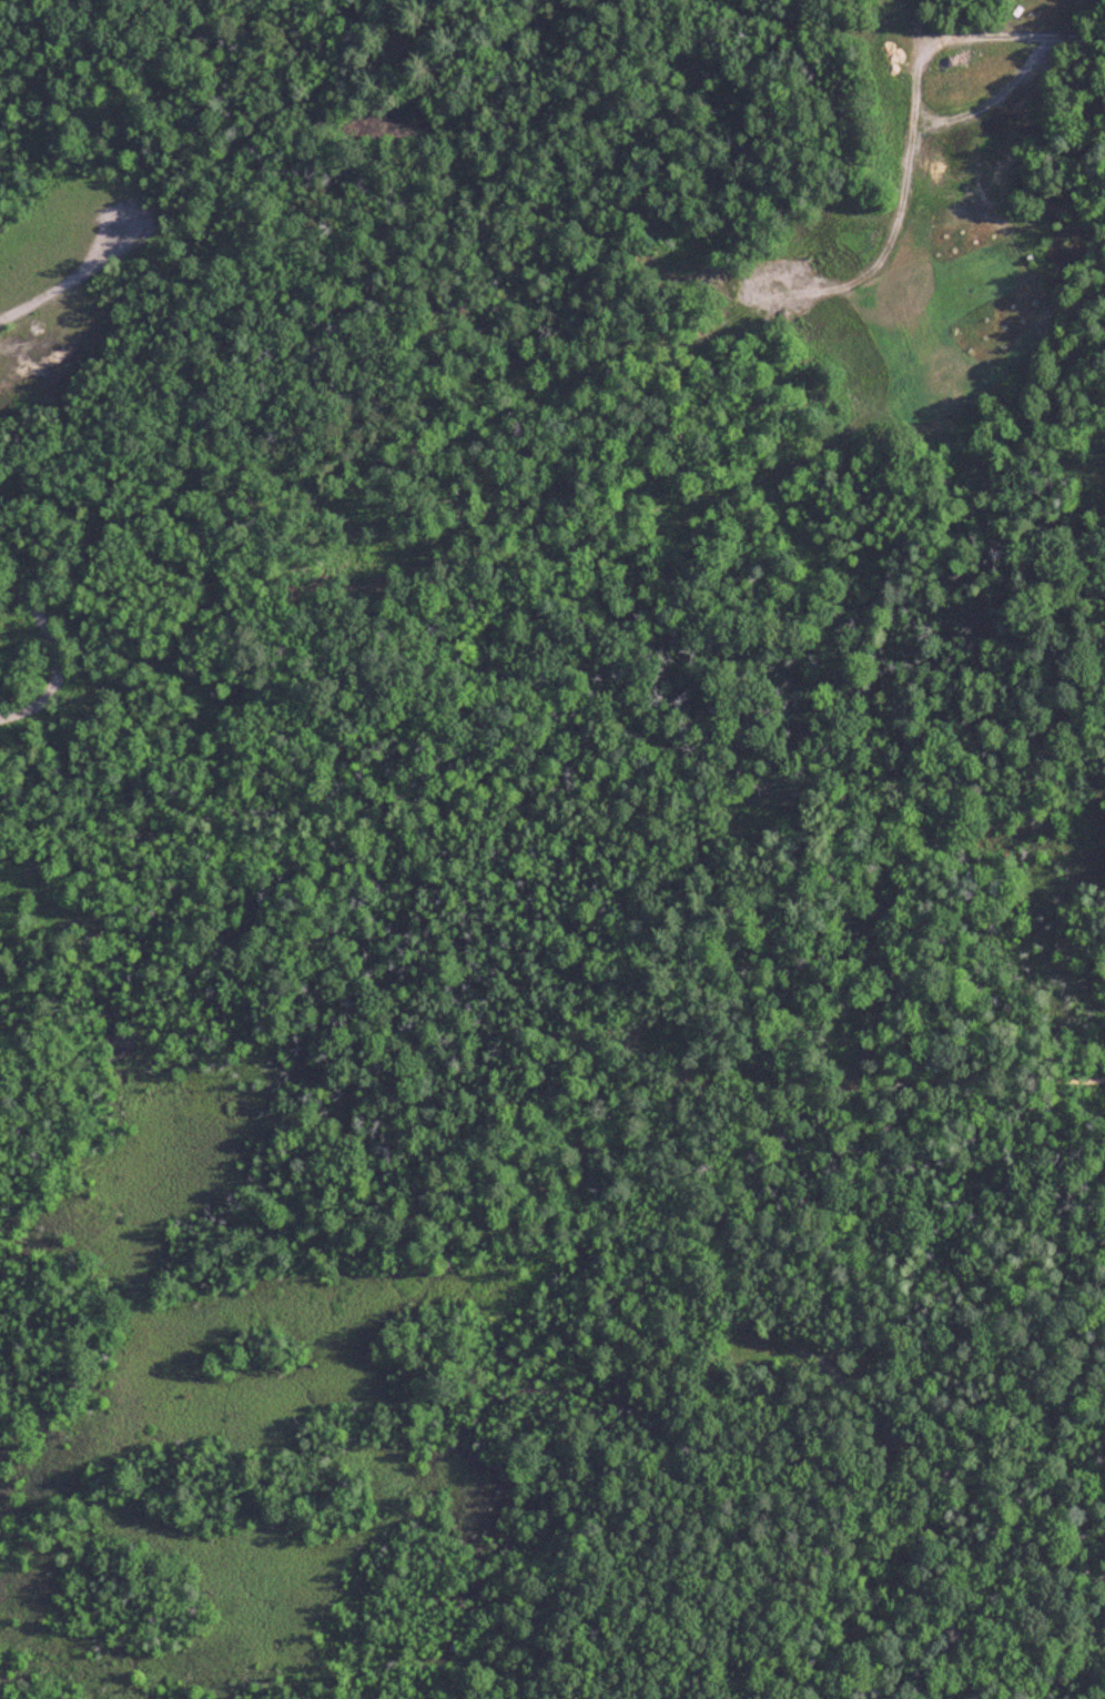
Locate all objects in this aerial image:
road: (48, 271)

